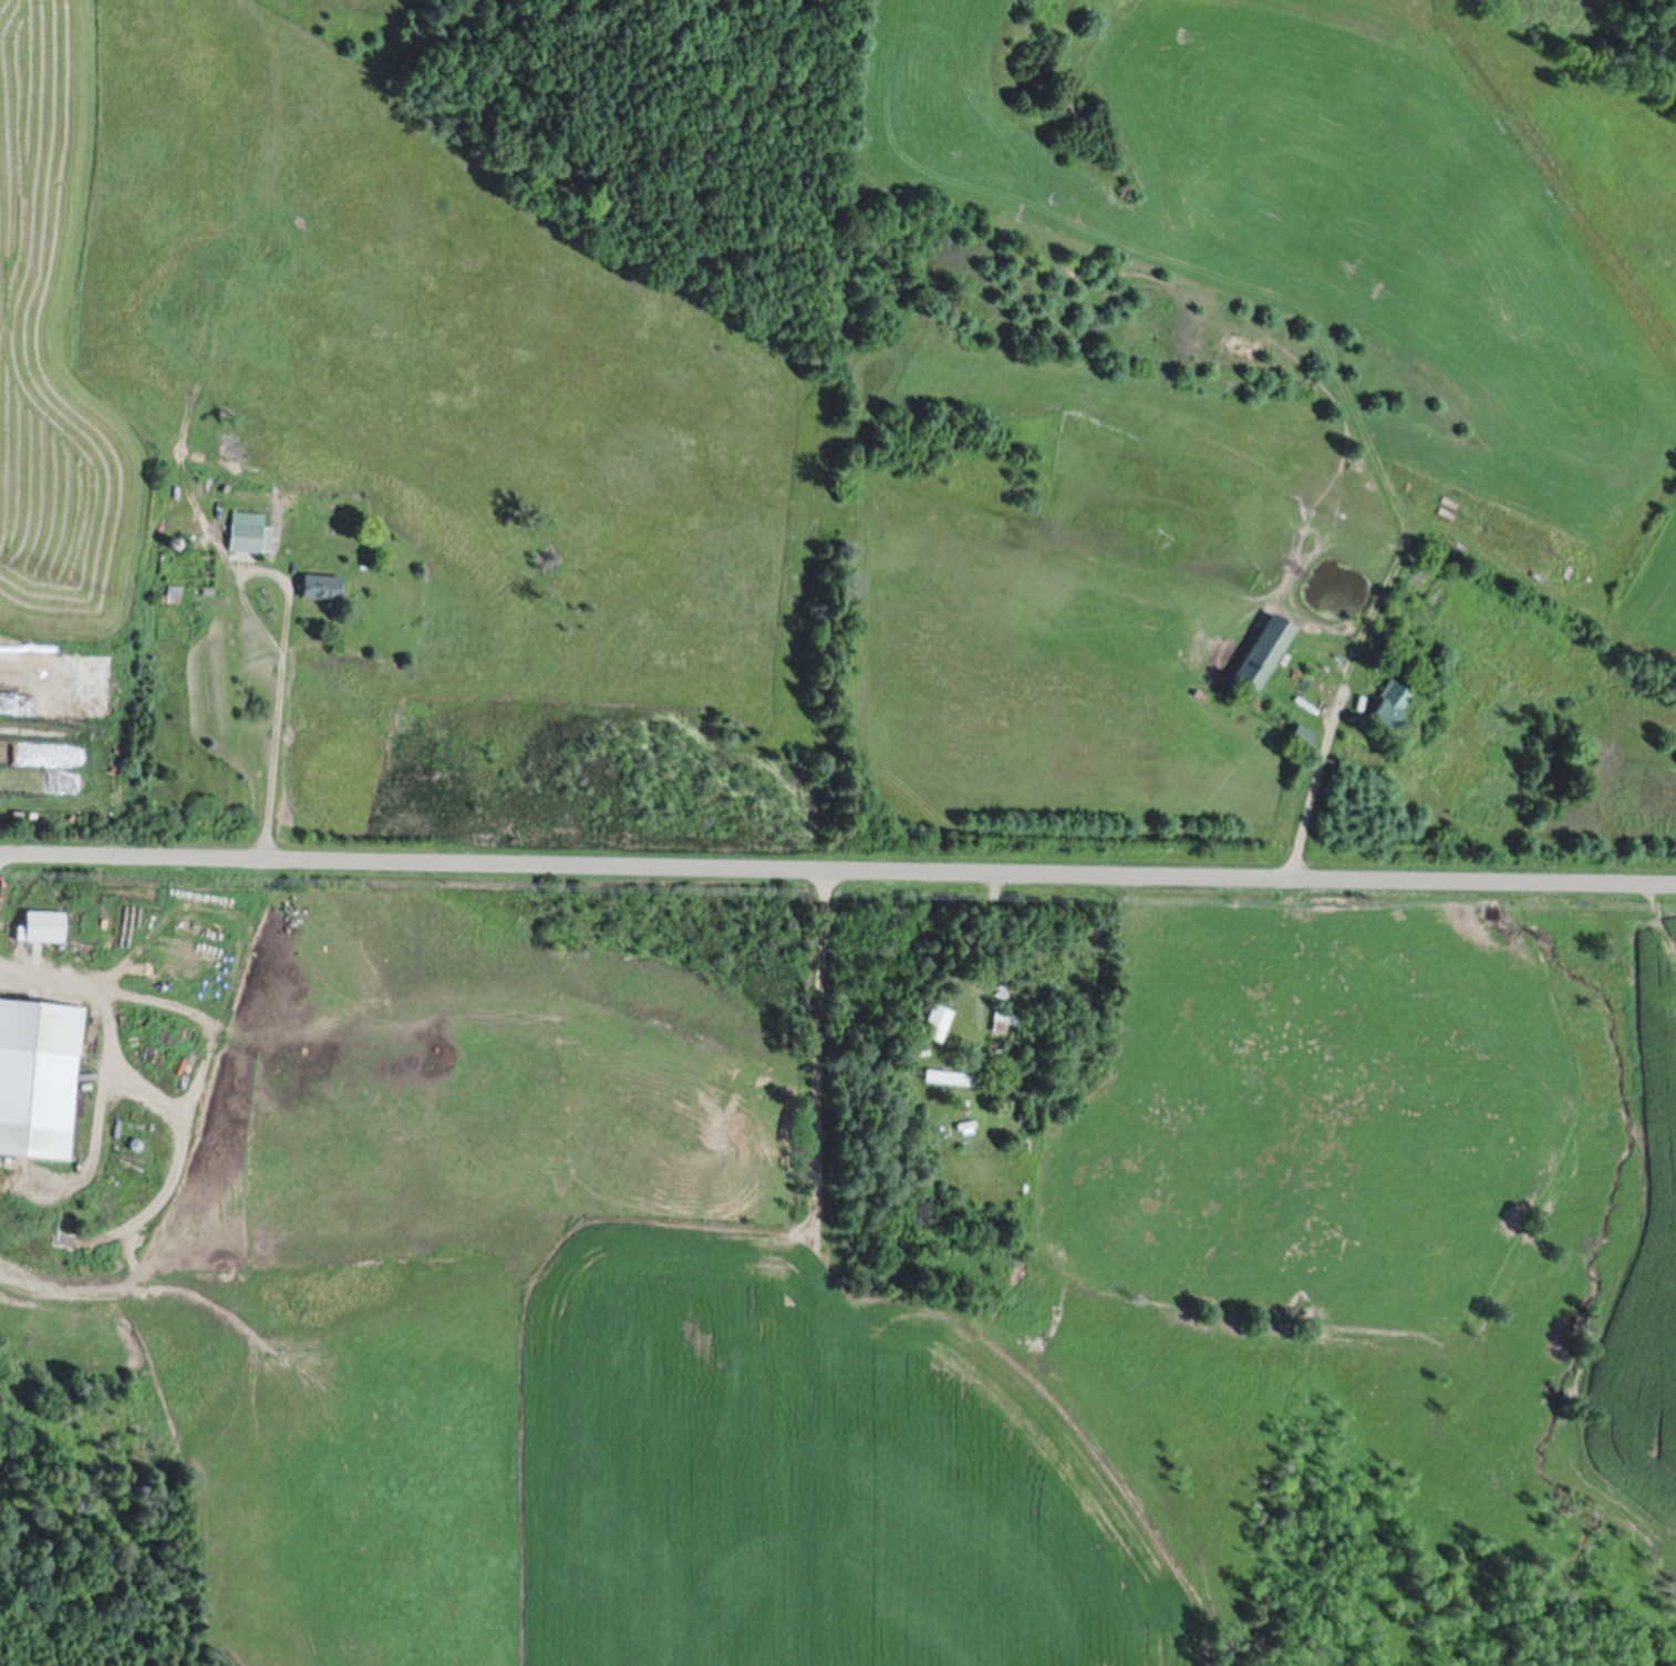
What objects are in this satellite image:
building: (1125, 186)
building: (1343, 403)
building: (1349, 435)
building: (176, 488)
building: (250, 529)
building: (1442, 538)
building: (175, 540)
building: (324, 586)
building: (209, 591)
building: (174, 592)
road: (287, 650)
building: (1265, 650)
building: (1376, 658)
building: (1392, 701)
building: (1302, 734)
road: (1314, 788)
road: (837, 866)
building: (46, 923)
building: (1004, 1015)
building: (937, 1018)
building: (1018, 1057)
building: (952, 1073)
building: (40, 1074)
building: (136, 1140)

